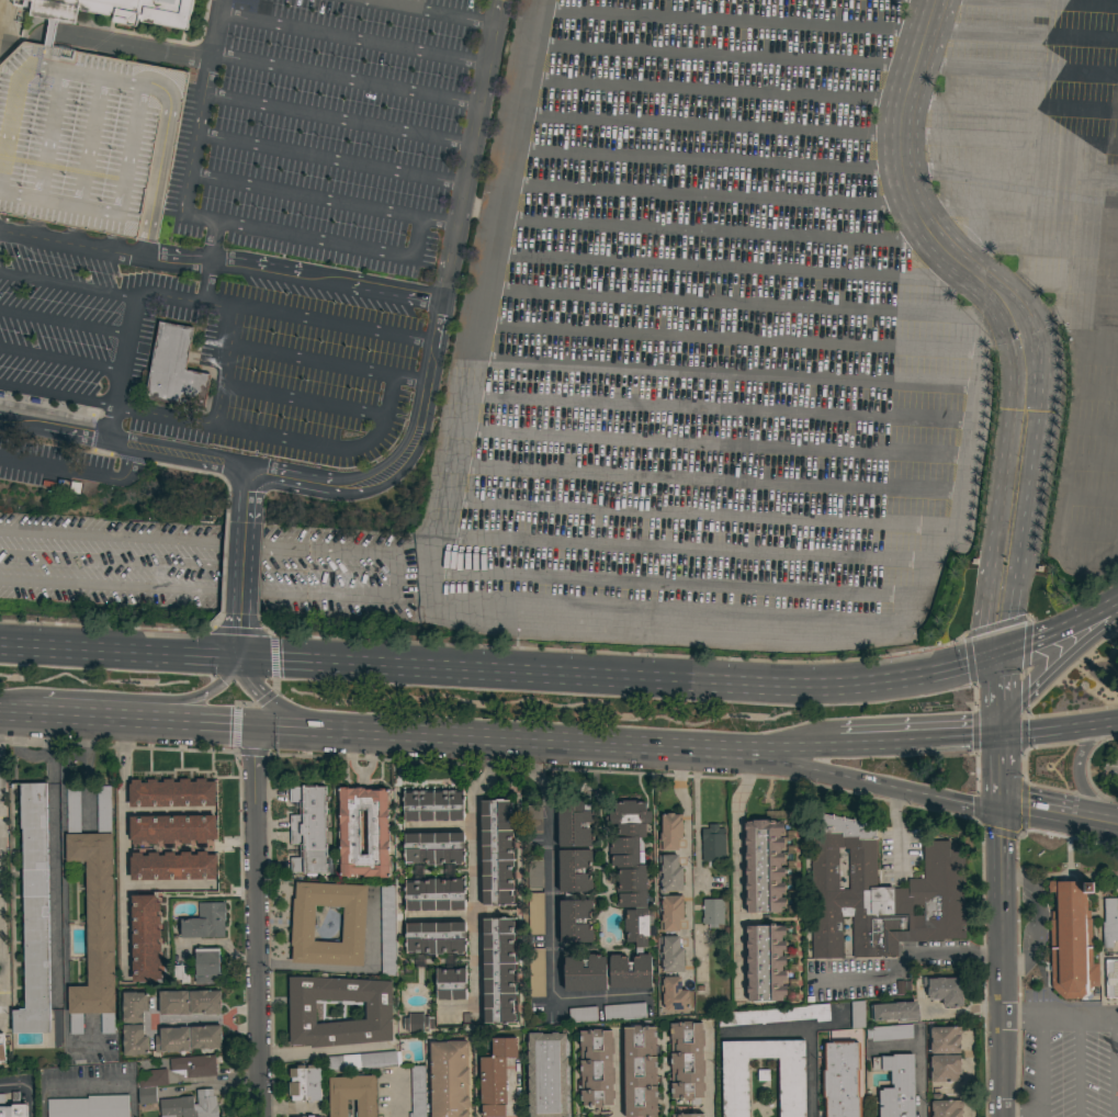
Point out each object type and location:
building: (4, 1)
road: (1092, 9)
road: (437, 10)
building: (116, 12)
road: (726, 20)
road: (48, 33)
road: (357, 40)
road: (105, 49)
road: (151, 50)
road: (718, 54)
road: (1088, 77)
road: (709, 89)
road: (14, 99)
road: (339, 119)
road: (703, 125)
road: (1053, 127)
parking lot: (337, 131)
building: (87, 138)
parking garage: (87, 138)
road: (195, 142)
road: (332, 159)
road: (700, 160)
road: (702, 194)
road: (325, 199)
road: (31, 226)
road: (709, 232)
road: (71, 234)
road: (112, 240)
road: (214, 241)
road: (223, 262)
road: (720, 266)
road: (475, 301)
road: (726, 302)
road: (132, 303)
road: (1005, 306)
road: (443, 312)
road: (261, 317)
road: (64, 324)
parking lot: (65, 325)
parking lot: (792, 329)
road: (724, 336)
parking lot: (273, 362)
road: (309, 362)
road: (60, 363)
road: (720, 368)
building: (173, 372)
road: (57, 395)
road: (305, 400)
road: (55, 430)
road: (261, 432)
road: (180, 455)
parking lot: (49, 463)
road: (77, 471)
road: (250, 484)
road: (215, 544)
road: (247, 556)
road: (143, 561)
road: (211, 591)
road: (1099, 616)
road: (842, 619)
road: (241, 638)
road: (1041, 642)
road: (120, 653)
road: (621, 676)
road: (1035, 677)
road: (998, 695)
road: (160, 703)
road: (284, 709)
road: (33, 713)
traffic signals: (252, 723)
road: (1057, 727)
road: (453, 734)
traffic signals: (997, 736)
road: (919, 740)
parking lot: (1111, 763)
road: (1076, 770)
road: (997, 771)
road: (877, 785)
parking lot: (1117, 786)
building: (171, 793)
building: (433, 805)
road: (1023, 806)
road: (1083, 816)
building: (534, 819)
building: (575, 824)
building: (171, 828)
building: (308, 830)
road: (896, 831)
building: (348, 832)
building: (669, 832)
road: (124, 844)
building: (713, 844)
building: (433, 848)
building: (495, 853)
road: (686, 857)
building: (172, 866)
building: (763, 866)
road: (472, 867)
road: (736, 870)
building: (535, 875)
road: (167, 887)
building: (632, 893)
building: (663, 893)
building: (434, 894)
building: (880, 894)
road: (63, 895)
building: (567, 898)
building: (93, 911)
building: (34, 913)
building: (535, 913)
building: (712, 913)
road: (549, 914)
road: (1038, 916)
road: (253, 919)
road: (1, 922)
building: (205, 922)
building: (1109, 923)
building: (353, 924)
building: (387, 930)
building: (145, 936)
building: (434, 937)
building: (1071, 940)
building: (670, 954)
road: (905, 958)
road: (1003, 961)
building: (765, 963)
building: (206, 966)
road: (351, 969)
building: (498, 971)
building: (537, 972)
building: (181, 973)
building: (585, 973)
building: (1111, 979)
building: (450, 984)
building: (945, 990)
building: (674, 994)
building: (204, 1002)
building: (173, 1003)
building: (302, 1011)
building: (624, 1012)
building: (895, 1012)
building: (857, 1014)
building: (775, 1015)
building: (583, 1016)
road: (1074, 1016)
building: (418, 1023)
building: (127, 1024)
road: (809, 1030)
building: (889, 1033)
building: (205, 1037)
building: (172, 1039)
building: (945, 1040)
building: (2, 1048)
road: (1035, 1050)
road: (319, 1051)
road: (919, 1058)
building: (363, 1061)
parking lot: (1069, 1061)
building: (687, 1062)
building: (193, 1065)
road: (1076, 1067)
road: (1114, 1067)
building: (596, 1068)
building: (945, 1069)
building: (640, 1072)
road: (708, 1072)
building: (546, 1075)
building: (495, 1076)
road: (618, 1076)
building: (154, 1079)
building: (448, 1079)
building: (840, 1080)
road: (87, 1083)
building: (304, 1083)
building: (896, 1085)
road: (967, 1085)
road: (26, 1087)
building: (735, 1087)
building: (417, 1091)
road: (513, 1092)
building: (147, 1095)
building: (351, 1095)
road: (384, 1101)
building: (190, 1105)
building: (89, 1106)
building: (12, 1107)
building: (946, 1107)
road: (1018, 1113)
building: (688, 1115)
building: (310, 1116)

